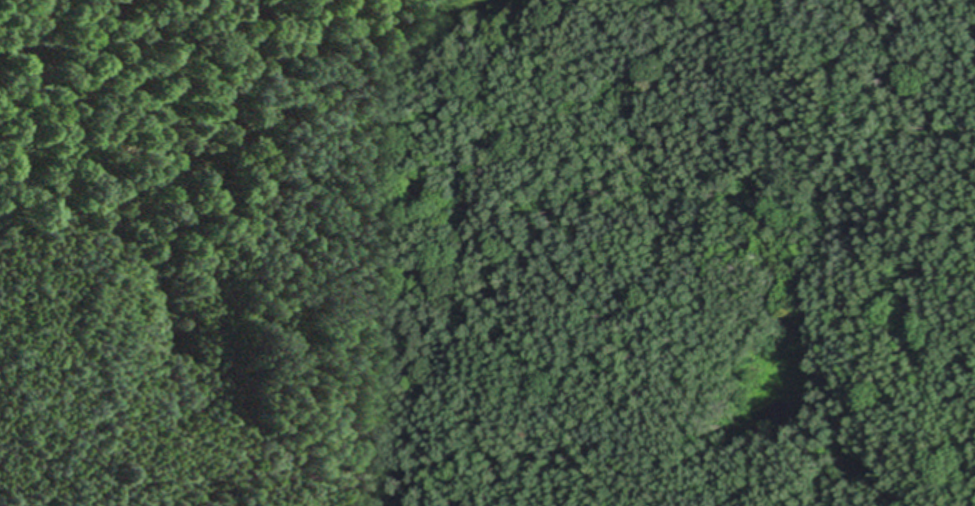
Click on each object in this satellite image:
road: (57, 33)

